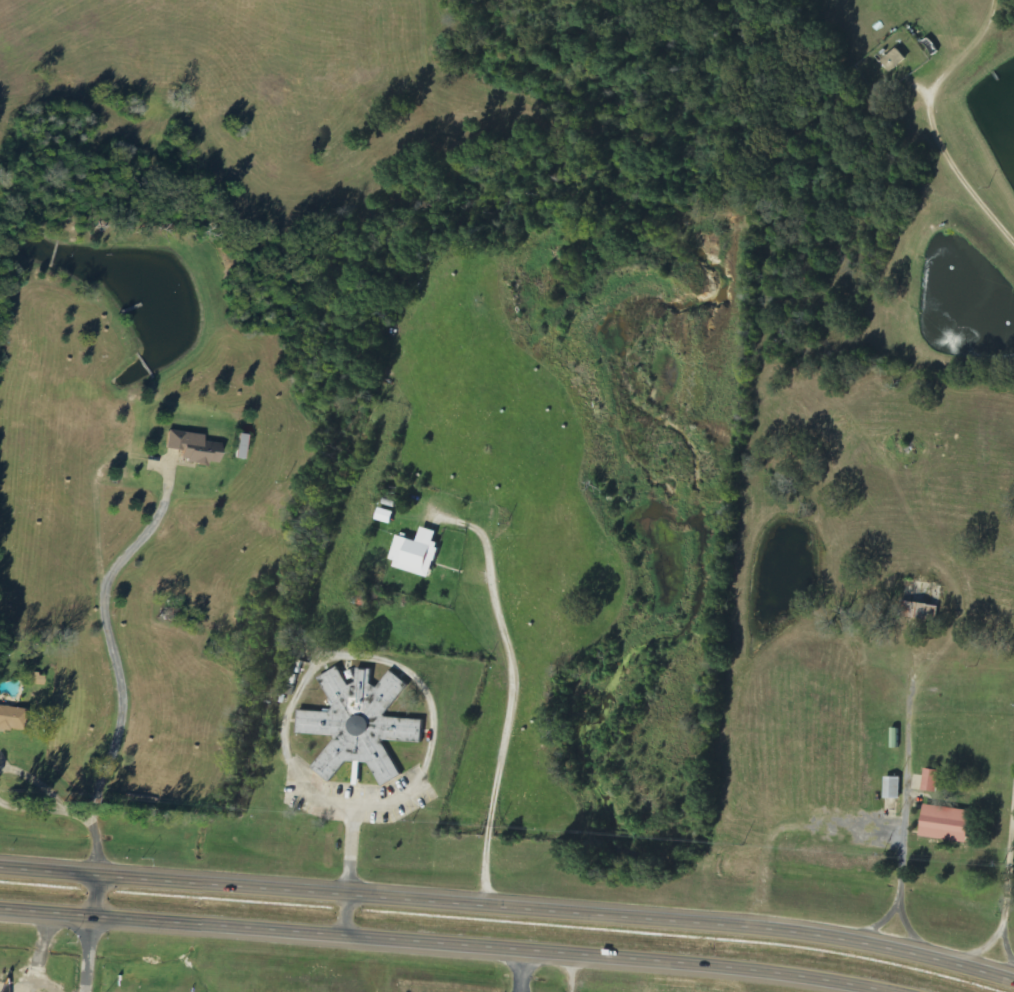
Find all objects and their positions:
building: (894, 61)
road: (963, 114)
building: (245, 446)
building: (197, 447)
building: (388, 516)
building: (421, 553)
building: (918, 611)
road: (114, 662)
building: (14, 718)
building: (362, 725)
building: (930, 781)
building: (891, 788)
building: (944, 824)
road: (509, 907)
road: (1008, 921)
road: (92, 935)
road: (431, 948)

